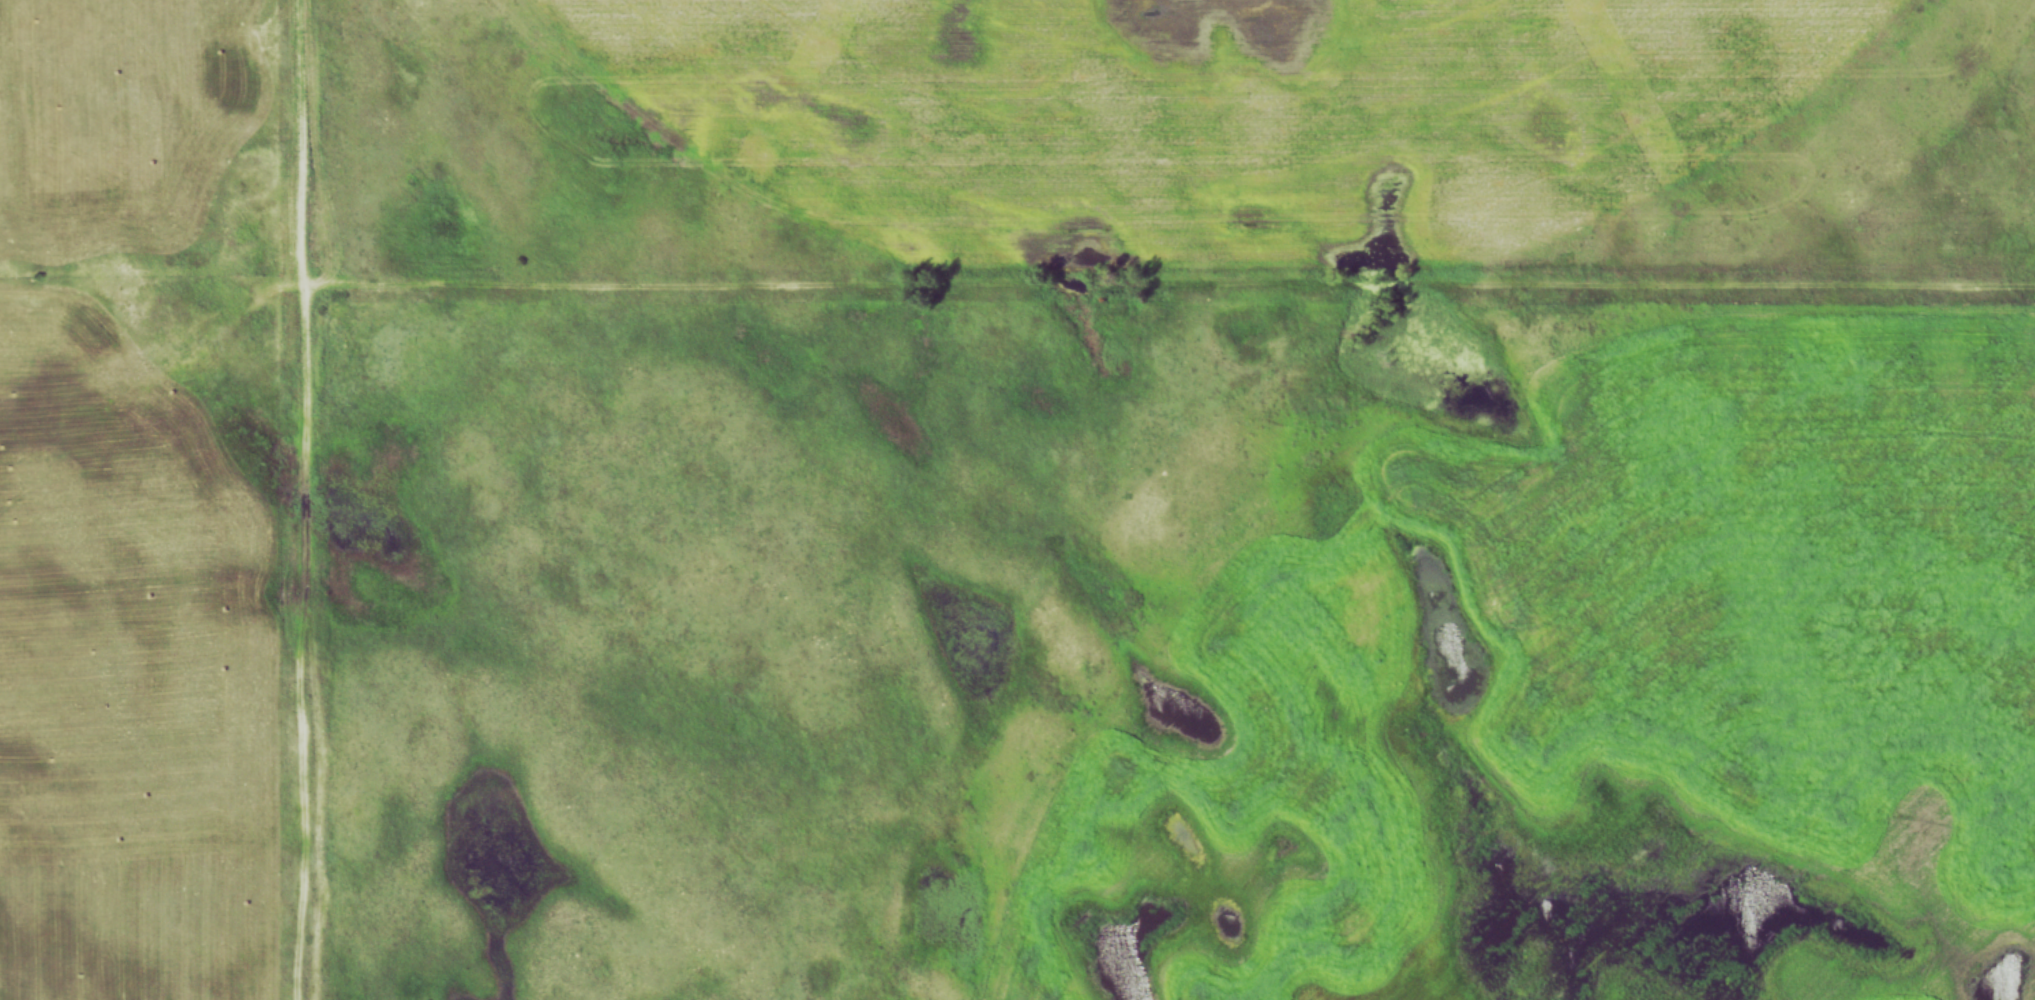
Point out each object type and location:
road: (1168, 288)
road: (306, 500)

